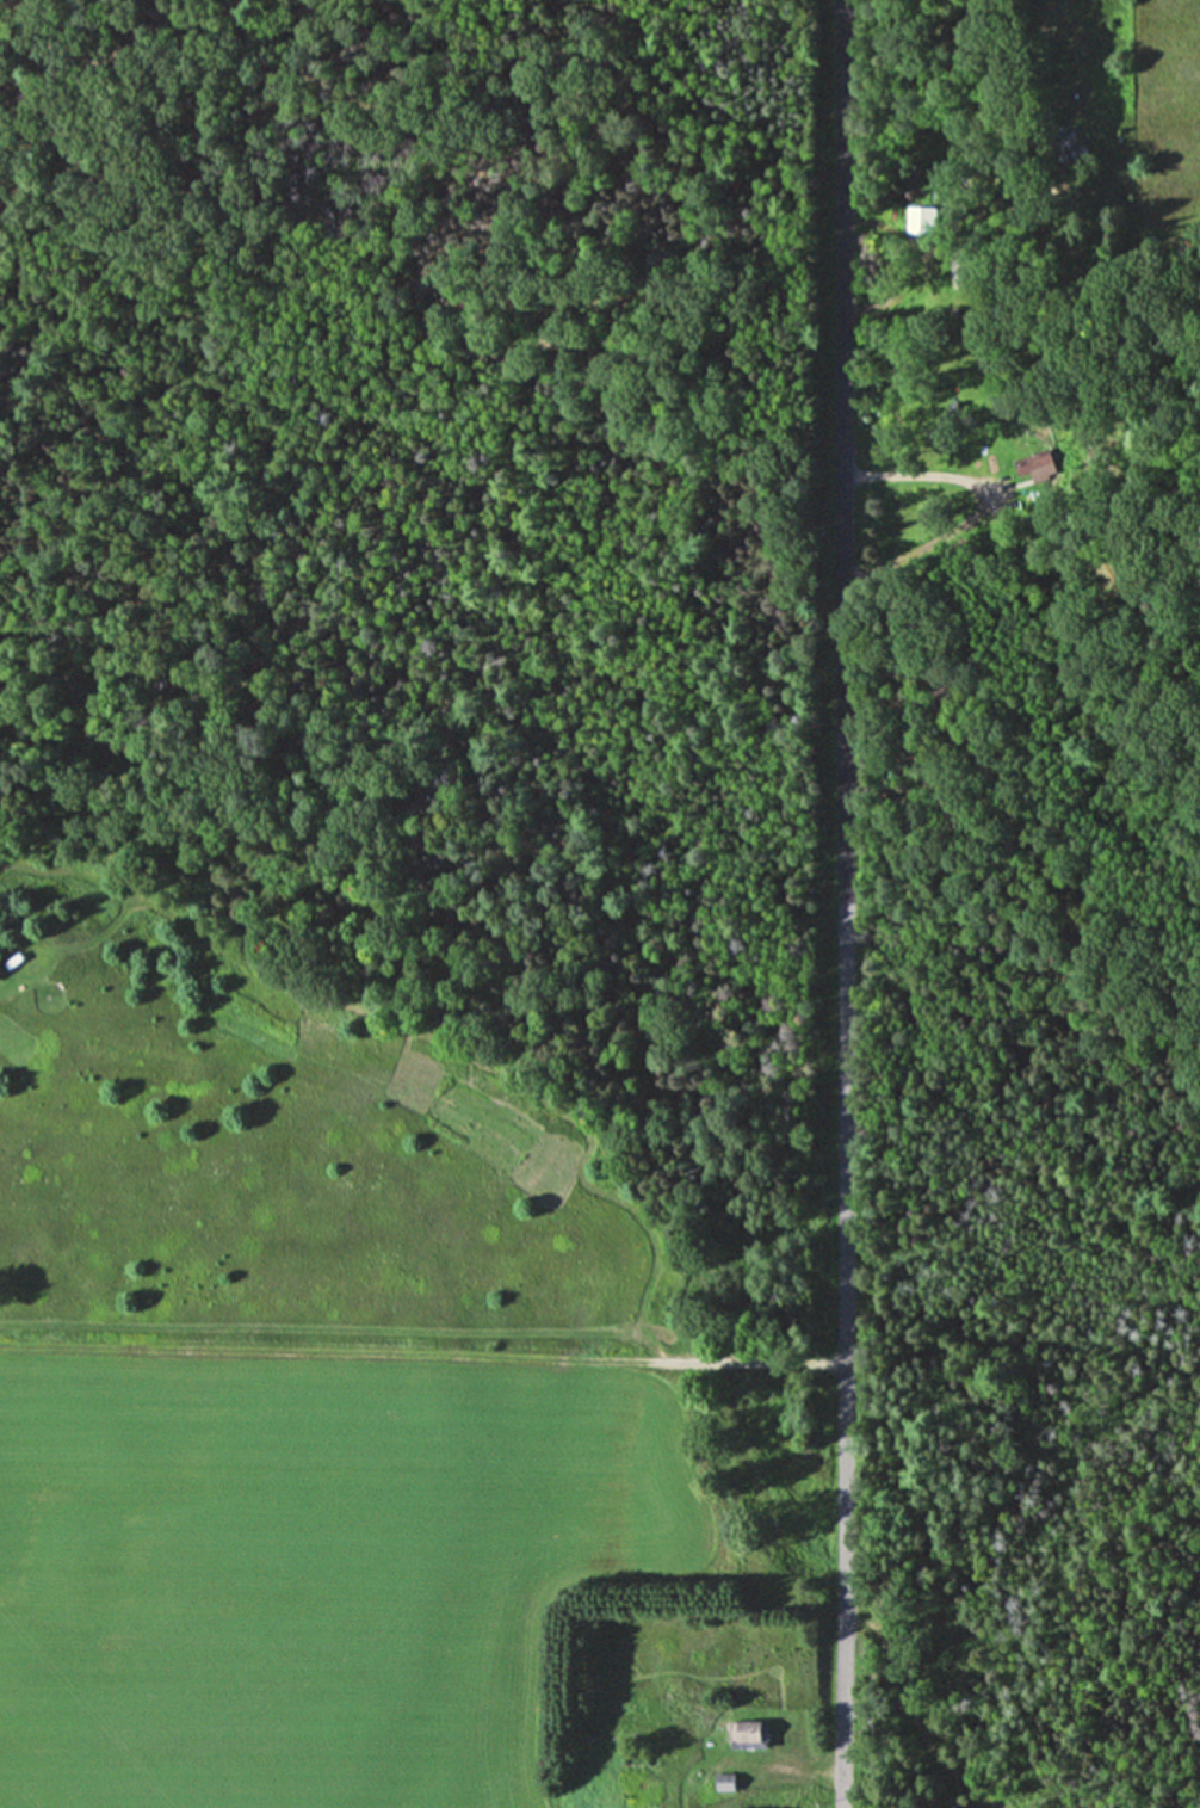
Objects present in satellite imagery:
building: (922, 221)
building: (1038, 467)
road: (921, 476)
road: (846, 903)
road: (780, 1769)
building: (720, 1784)

